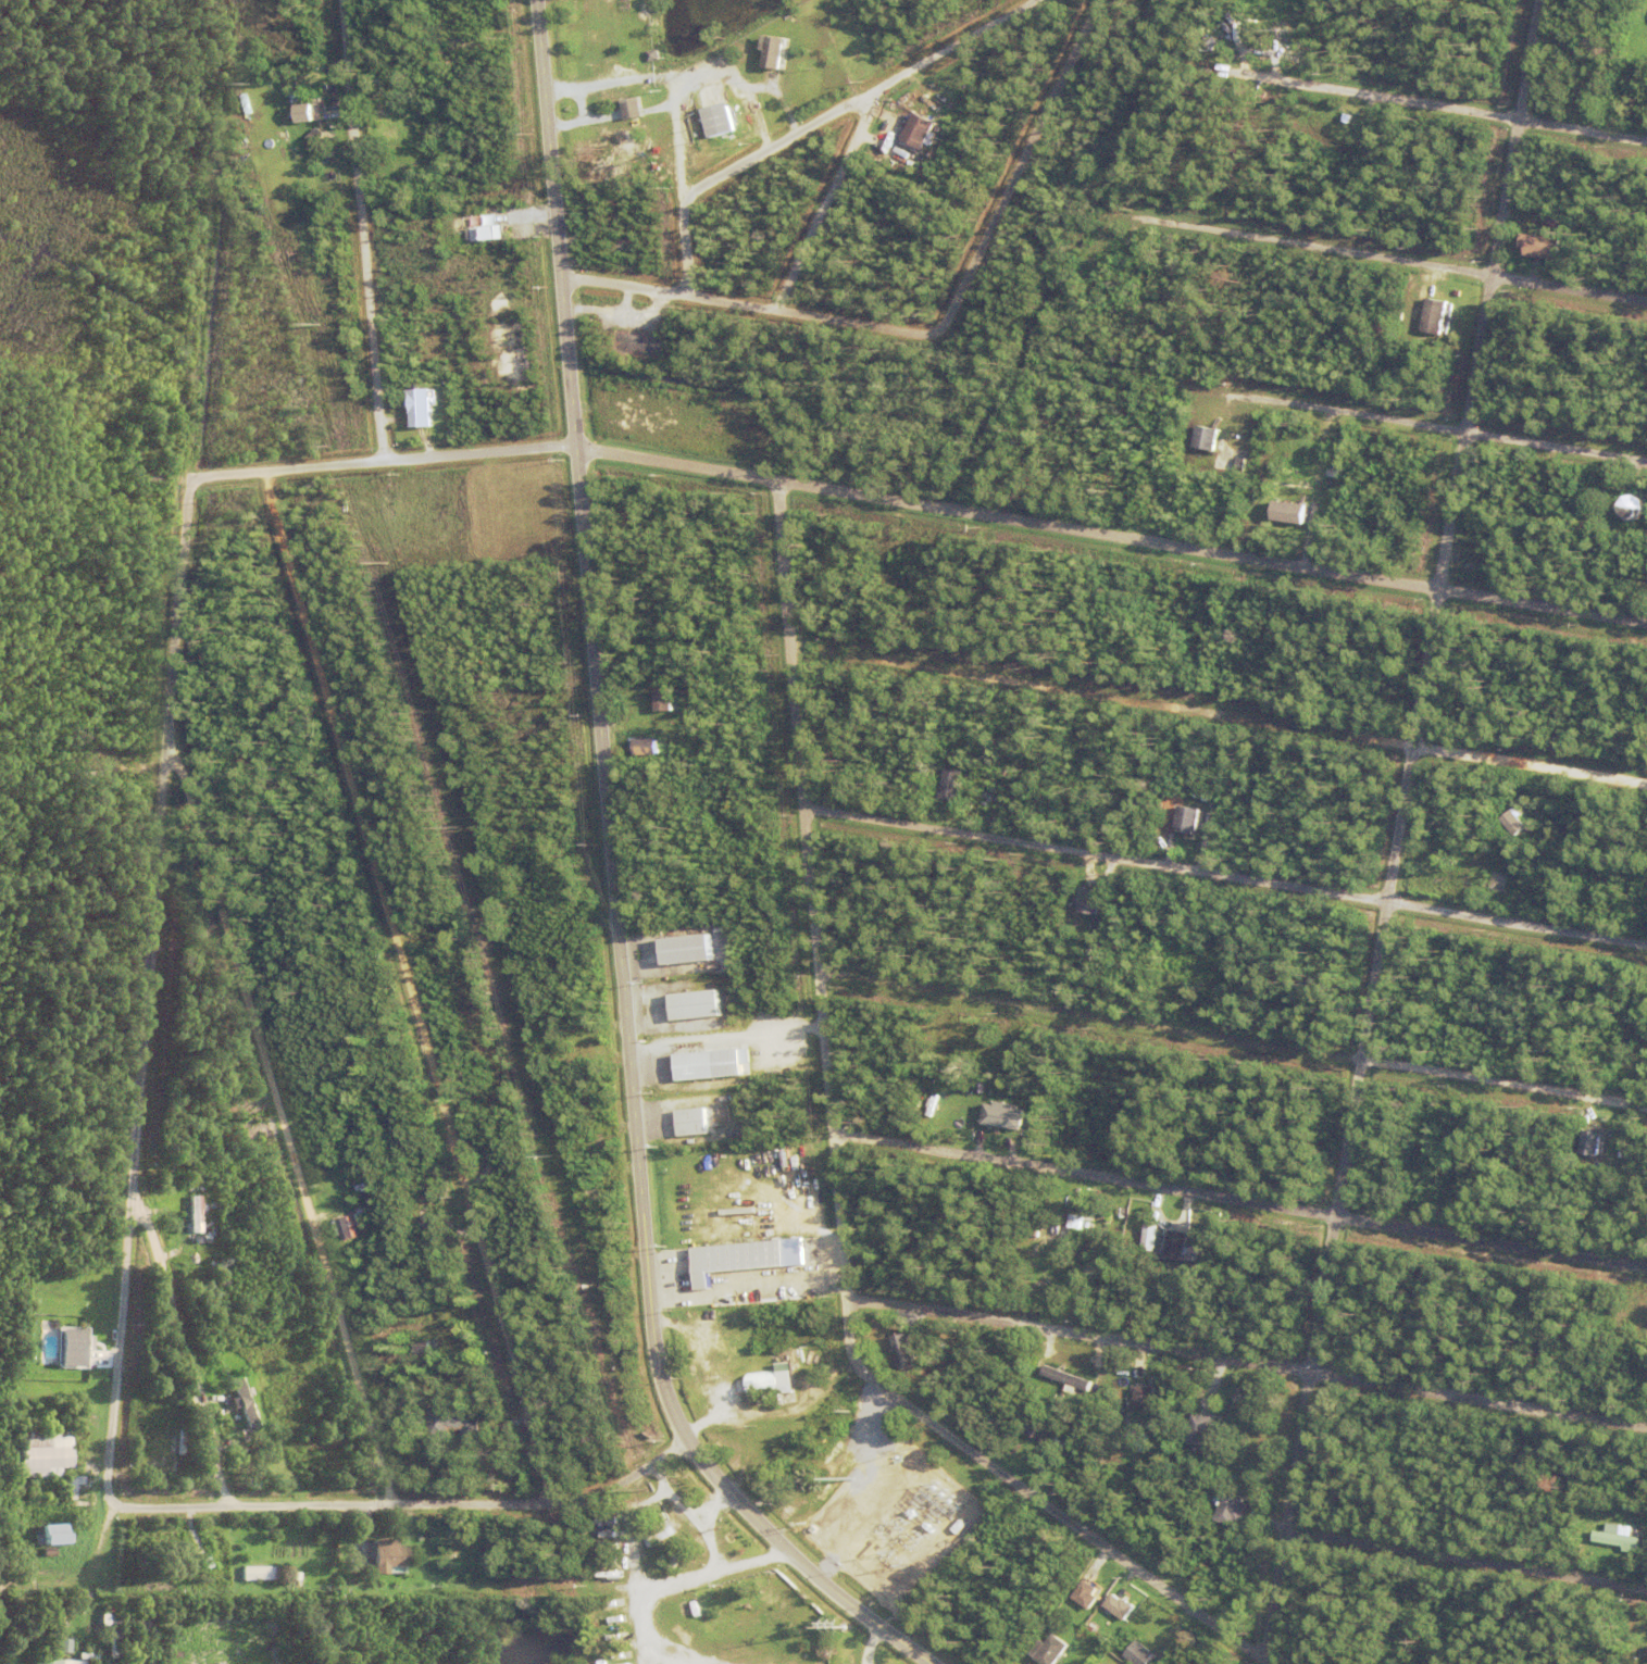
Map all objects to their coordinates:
building: (1256, 26)
building: (1242, 34)
building: (1268, 49)
building: (654, 58)
building: (777, 58)
building: (638, 59)
building: (624, 62)
road: (875, 96)
building: (1639, 104)
building: (923, 109)
road: (1449, 110)
building: (634, 112)
building: (300, 113)
building: (1349, 122)
building: (1370, 123)
building: (721, 125)
building: (292, 127)
building: (921, 136)
building: (316, 141)
building: (907, 161)
road: (1023, 170)
road: (829, 204)
building: (1554, 217)
road: (367, 233)
building: (484, 234)
road: (695, 247)
building: (626, 250)
building: (1539, 254)
road: (1376, 258)
building: (1447, 286)
building: (1458, 293)
road: (210, 305)
road: (757, 309)
building: (1355, 313)
building: (1436, 313)
building: (638, 351)
building: (423, 404)
building: (1244, 416)
building: (441, 423)
road: (1433, 427)
building: (1231, 437)
building: (1203, 438)
building: (1236, 458)
building: (1322, 473)
building: (1529, 473)
building: (1568, 483)
building: (1542, 489)
building: (1634, 501)
road: (923, 504)
building: (1153, 508)
building: (1285, 513)
building: (1208, 584)
building: (1172, 591)
building: (1183, 597)
building: (1160, 608)
building: (1180, 611)
building: (1187, 625)
building: (1010, 633)
building: (667, 697)
building: (659, 701)
building: (1089, 710)
road: (1220, 714)
road: (606, 723)
building: (648, 745)
building: (954, 783)
building: (1006, 790)
building: (1205, 795)
building: (1190, 811)
building: (1517, 821)
building: (1176, 823)
road: (1405, 831)
road: (1227, 874)
building: (1499, 880)
building: (1086, 900)
building: (1099, 914)
building: (107, 942)
building: (688, 948)
building: (696, 967)
road: (414, 988)
road: (142, 993)
building: (696, 1003)
building: (591, 1029)
building: (932, 1035)
road: (1233, 1038)
building: (1646, 1059)
building: (710, 1064)
building: (561, 1071)
building: (932, 1074)
building: (987, 1083)
building: (966, 1096)
building: (943, 1101)
road: (277, 1105)
building: (204, 1110)
building: (525, 1113)
building: (386, 1114)
building: (1006, 1114)
building: (694, 1122)
building: (330, 1128)
building: (249, 1129)
building: (1606, 1131)
building: (1590, 1142)
building: (582, 1148)
building: (495, 1158)
building: (171, 1167)
building: (501, 1172)
building: (588, 1174)
road: (836, 1175)
building: (198, 1187)
building: (350, 1191)
building: (589, 1197)
road: (1239, 1197)
building: (376, 1208)
building: (195, 1214)
building: (1077, 1222)
building: (1201, 1223)
building: (350, 1228)
building: (1147, 1237)
building: (1048, 1238)
building: (815, 1241)
building: (795, 1242)
building: (1182, 1244)
building: (812, 1252)
building: (220, 1258)
building: (739, 1259)
building: (812, 1260)
building: (200, 1285)
building: (1136, 1287)
building: (1200, 1293)
building: (50, 1317)
building: (1630, 1324)
building: (98, 1346)
building: (944, 1346)
building: (899, 1347)
building: (71, 1348)
road: (180, 1349)
building: (424, 1350)
road: (1248, 1354)
building: (1070, 1379)
building: (774, 1383)
building: (1146, 1398)
building: (242, 1403)
building: (496, 1404)
building: (1078, 1413)
building: (1239, 1414)
building: (1203, 1422)
building: (454, 1423)
building: (1220, 1423)
building: (1041, 1432)
building: (1026, 1441)
building: (255, 1442)
building: (41, 1448)
building: (85, 1471)
building: (1249, 1481)
building: (71, 1486)
road: (409, 1502)
building: (1228, 1511)
building: (1600, 1515)
building: (961, 1527)
building: (661, 1534)
building: (51, 1535)
building: (1620, 1541)
building: (24, 1550)
building: (660, 1552)
building: (153, 1556)
building: (384, 1556)
road: (1467, 1556)
building: (220, 1559)
building: (203, 1560)
building: (678, 1560)
building: (188, 1562)
road: (798, 1564)
building: (174, 1571)
building: (349, 1572)
building: (259, 1574)
building: (185, 1589)
building: (1086, 1597)
building: (1120, 1607)
building: (112, 1631)
building: (1189, 1639)
building: (64, 1646)
building: (1051, 1651)
building: (1140, 1654)
building: (82, 1657)
building: (1633, 1660)
building: (602, 1661)
building: (45, 1662)
building: (74, 1663)

